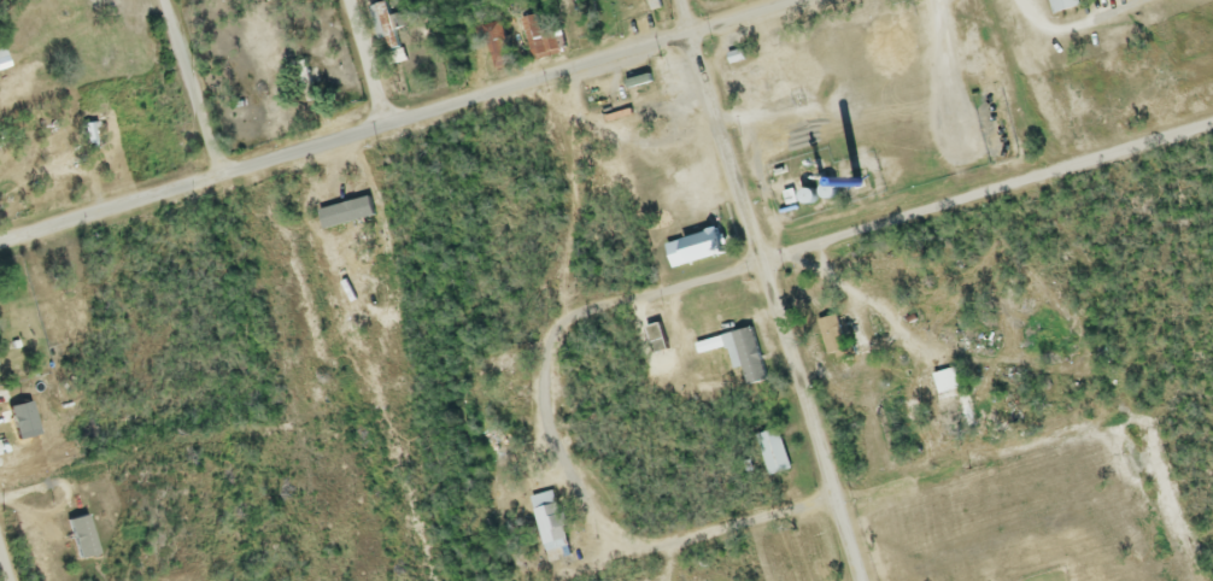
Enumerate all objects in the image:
building: (651, 5)
building: (1059, 6)
road: (1083, 28)
building: (4, 60)
road: (369, 60)
road: (948, 76)
road: (192, 89)
road: (405, 116)
road: (985, 194)
building: (793, 199)
building: (695, 248)
road: (825, 274)
road: (768, 290)
road: (885, 312)
building: (652, 341)
building: (834, 341)
building: (736, 356)
building: (948, 398)
building: (29, 417)
road: (558, 451)
building: (770, 454)
building: (546, 523)
road: (6, 558)

